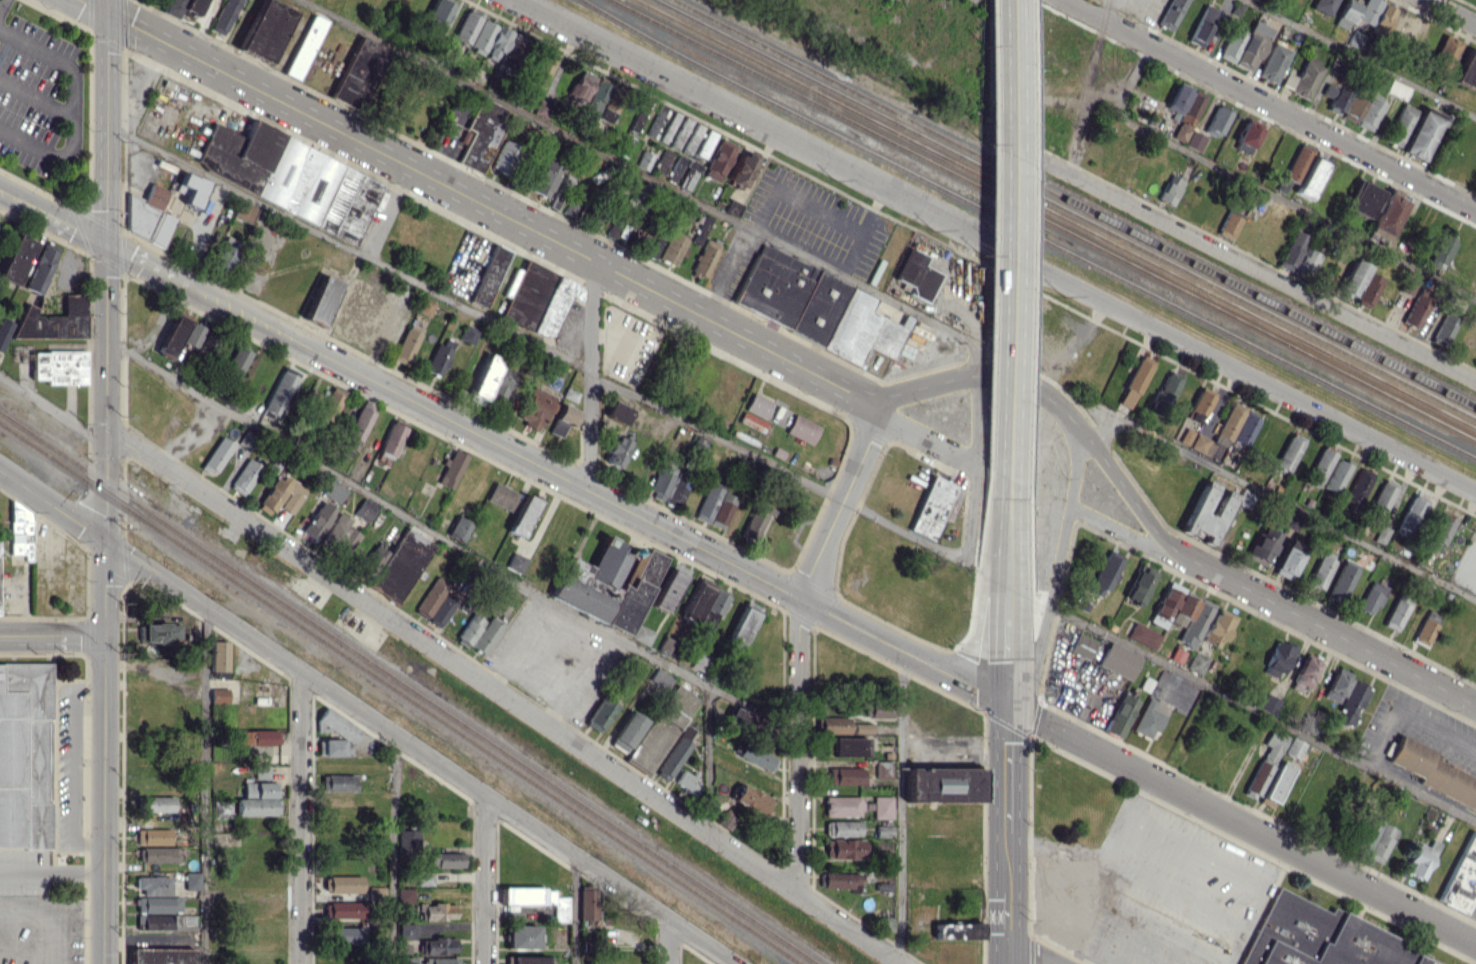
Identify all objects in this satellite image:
road: (1, 3)
building: (1322, 6)
building: (183, 7)
building: (1367, 11)
traffic signals: (108, 12)
road: (1451, 12)
building: (1170, 13)
building: (438, 14)
building: (1346, 14)
building: (224, 16)
building: (1383, 16)
building: (1202, 25)
building: (466, 27)
building: (266, 29)
building: (497, 44)
building: (1230, 46)
building: (304, 47)
building: (1249, 50)
building: (1444, 53)
road: (1358, 59)
building: (1272, 62)
building: (541, 68)
building: (1466, 69)
building: (360, 72)
building: (1302, 78)
building: (581, 86)
road: (1089, 86)
building: (1396, 89)
road: (36, 96)
building: (596, 97)
building: (1177, 97)
building: (1334, 97)
road: (1269, 104)
road: (73, 107)
building: (542, 108)
building: (1351, 108)
building: (1368, 113)
building: (1188, 114)
building: (657, 120)
building: (1217, 121)
building: (1399, 125)
building: (668, 126)
building: (680, 132)
building: (482, 133)
building: (1421, 133)
building: (1247, 136)
building: (692, 138)
building: (1194, 140)
building: (505, 157)
building: (697, 159)
building: (643, 160)
building: (718, 160)
building: (661, 161)
building: (1295, 165)
building: (743, 167)
building: (675, 168)
road: (641, 171)
building: (290, 177)
building: (544, 178)
building: (1310, 178)
building: (190, 188)
building: (1169, 189)
road: (1261, 190)
building: (578, 195)
road: (16, 199)
building: (1363, 199)
road: (483, 204)
railway: (1074, 205)
building: (732, 207)
railway: (1063, 210)
building: (244, 211)
road: (815, 211)
railway: (1053, 215)
building: (1386, 215)
railway: (1042, 220)
building: (1228, 224)
road: (70, 226)
building: (701, 229)
railway: (1027, 231)
building: (639, 237)
traffic signals: (107, 244)
road: (996, 246)
building: (226, 248)
building: (672, 248)
building: (1291, 250)
building: (1441, 252)
building: (705, 257)
building: (15, 259)
building: (1305, 262)
building: (41, 267)
road: (154, 268)
road: (1257, 269)
road: (724, 270)
building: (916, 274)
building: (489, 276)
building: (1353, 277)
road: (1007, 283)
building: (1408, 286)
building: (1367, 289)
building: (538, 299)
building: (321, 300)
building: (815, 305)
building: (424, 306)
building: (355, 311)
building: (1415, 311)
road: (106, 317)
building: (54, 320)
building: (1442, 329)
building: (4, 331)
building: (468, 334)
building: (195, 335)
building: (172, 336)
building: (207, 342)
road: (1071, 343)
building: (406, 344)
road: (536, 344)
building: (439, 356)
road: (977, 358)
building: (237, 360)
building: (59, 367)
road: (589, 373)
building: (484, 376)
building: (1135, 381)
building: (1166, 388)
building: (498, 391)
building: (279, 395)
building: (330, 403)
building: (758, 405)
building: (1198, 405)
building: (534, 407)
road: (53, 409)
building: (617, 411)
building: (562, 419)
traffic signals: (106, 427)
building: (357, 427)
building: (801, 429)
building: (1243, 431)
building: (1218, 434)
building: (1185, 435)
road: (926, 439)
building: (390, 443)
building: (616, 451)
building: (1289, 452)
building: (217, 454)
road: (971, 466)
building: (1319, 467)
building: (452, 469)
building: (244, 476)
building: (1335, 476)
building: (1359, 483)
building: (669, 487)
building: (333, 494)
building: (272, 496)
building: (502, 496)
road: (605, 496)
building: (1244, 499)
building: (1381, 499)
building: (291, 501)
road: (1283, 501)
road: (840, 503)
building: (1200, 503)
road: (53, 506)
building: (714, 506)
building: (931, 507)
building: (365, 510)
building: (1411, 515)
building: (522, 516)
building: (317, 521)
building: (756, 523)
building: (458, 528)
road: (1122, 528)
building: (20, 531)
building: (1439, 533)
road: (1158, 534)
building: (1381, 534)
building: (340, 535)
traffic signals: (106, 542)
road: (448, 542)
building: (1261, 546)
road: (1058, 559)
building: (1287, 559)
building: (396, 564)
building: (1320, 569)
building: (1104, 573)
building: (1341, 581)
building: (1139, 584)
building: (609, 586)
building: (669, 587)
building: (431, 596)
building: (1371, 596)
building: (699, 599)
building: (716, 603)
building: (1165, 604)
building: (442, 610)
building: (1182, 610)
building: (1396, 613)
building: (1195, 623)
building: (743, 624)
building: (1425, 627)
building: (1217, 628)
building: (469, 630)
building: (159, 632)
building: (1140, 634)
building: (486, 635)
road: (52, 636)
building: (644, 636)
building: (665, 645)
building: (1082, 646)
building: (1176, 655)
building: (218, 658)
building: (1277, 658)
building: (1117, 660)
building: (700, 662)
building: (1196, 662)
building: (1305, 670)
building: (661, 678)
building: (1336, 684)
railway: (410, 687)
railway: (402, 692)
building: (219, 695)
road: (503, 695)
building: (1162, 701)
building: (1351, 702)
building: (1268, 704)
traffic signals: (1007, 705)
building: (876, 709)
road: (1262, 713)
building: (1119, 715)
building: (598, 717)
building: (834, 724)
road: (1385, 724)
road: (1431, 726)
building: (662, 728)
building: (862, 728)
building: (627, 731)
building: (335, 734)
building: (256, 736)
road: (798, 743)
building: (848, 746)
building: (1293, 747)
road: (420, 752)
building: (674, 754)
building: (24, 756)
building: (754, 756)
road: (708, 759)
building: (1265, 762)
road: (70, 765)
road: (1006, 765)
building: (883, 769)
building: (261, 772)
building: (1433, 772)
building: (849, 775)
building: (338, 782)
building: (687, 782)
building: (1274, 783)
building: (942, 784)
road: (205, 785)
building: (750, 798)
building: (256, 799)
road: (105, 800)
building: (158, 803)
building: (842, 805)
road: (899, 805)
building: (882, 807)
road: (300, 818)
building: (726, 821)
road: (1241, 825)
building: (843, 828)
building: (884, 831)
building: (1366, 832)
building: (153, 836)
building: (408, 840)
building: (1380, 843)
building: (843, 848)
road: (394, 849)
building: (158, 854)
flagpole: (60, 859)
building: (445, 859)
building: (1421, 859)
road: (1215, 862)
road: (52, 871)
road: (1113, 874)
building: (424, 878)
building: (1461, 878)
road: (484, 879)
building: (192, 880)
building: (841, 880)
building: (343, 884)
building: (153, 885)
building: (376, 892)
building: (404, 895)
building: (537, 899)
building: (1062, 899)
building: (158, 904)
building: (587, 904)
building: (342, 909)
road: (575, 910)
building: (439, 911)
road: (28, 913)
building: (182, 919)
building: (156, 922)
building: (407, 930)
building: (956, 930)
road: (1127, 934)
building: (344, 935)
building: (1317, 936)
road: (62, 937)
building: (522, 937)
road: (154, 941)
road: (669, 942)
building: (438, 945)
road: (1032, 950)
building: (161, 956)
building: (527, 959)
building: (441, 960)
building: (1415, 961)

